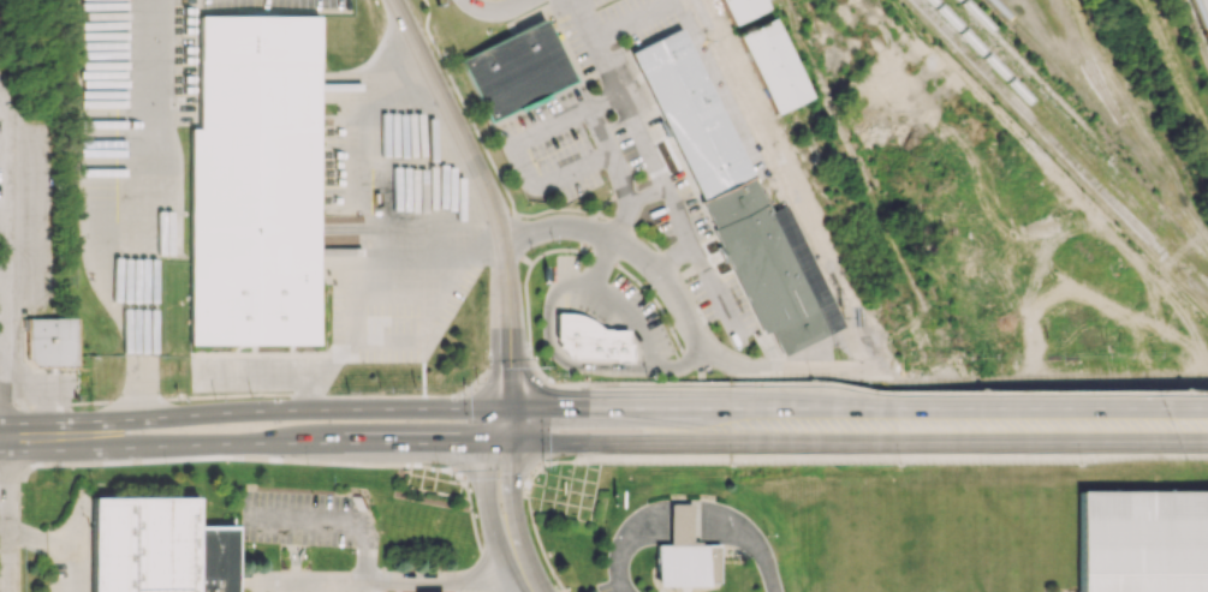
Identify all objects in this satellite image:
building: (742, 8)
road: (498, 10)
railway: (1201, 17)
railway: (1091, 61)
railway: (1055, 64)
building: (770, 65)
building: (516, 71)
railway: (1091, 94)
road: (465, 107)
building: (689, 113)
railway: (1064, 120)
railway: (1124, 124)
railway: (1087, 126)
road: (641, 139)
railway: (1070, 139)
railway: (1063, 146)
building: (255, 183)
road: (797, 186)
road: (489, 193)
road: (367, 197)
road: (144, 208)
road: (517, 235)
road: (526, 259)
road: (2, 261)
road: (1, 263)
building: (773, 265)
railway: (1194, 279)
road: (631, 322)
road: (358, 335)
building: (591, 340)
building: (50, 341)
road: (703, 343)
road: (1, 346)
road: (552, 384)
road: (900, 393)
traffic signals: (506, 407)
road: (827, 407)
road: (1178, 408)
road: (252, 409)
road: (499, 424)
road: (0, 439)
road: (1184, 441)
road: (245, 442)
traffic signals: (492, 442)
road: (826, 442)
road: (904, 456)
road: (545, 464)
road: (2, 515)
road: (343, 515)
road: (496, 519)
building: (1143, 540)
building: (161, 548)
building: (686, 566)
road: (399, 581)

